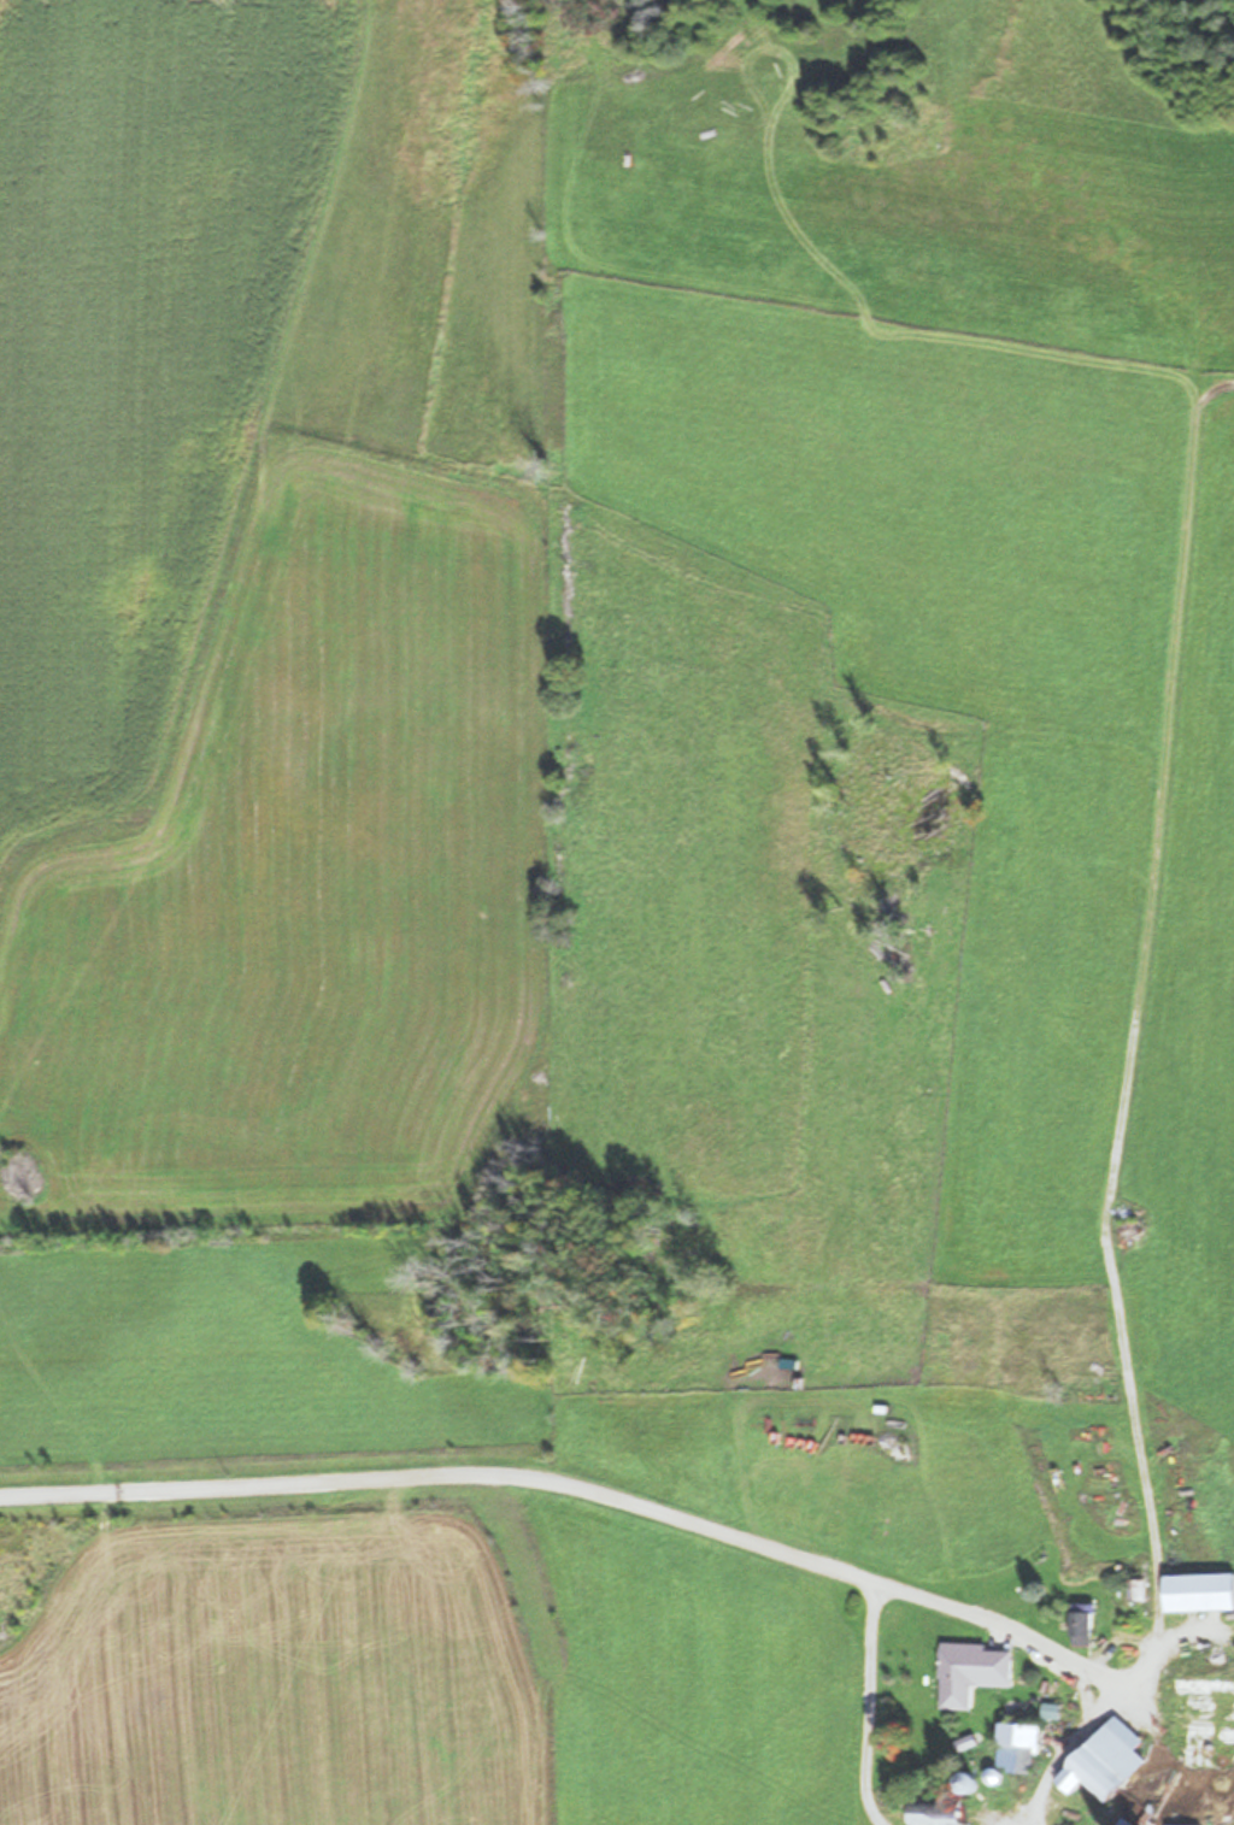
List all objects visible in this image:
road: (445, 1480)
building: (1199, 1591)
building: (1081, 1624)
building: (969, 1673)
road: (865, 1711)
building: (1050, 1711)
building: (1204, 1720)
building: (1017, 1747)
building: (1106, 1760)
building: (966, 1782)
building: (1152, 1807)
building: (935, 1812)
road: (1015, 1824)

